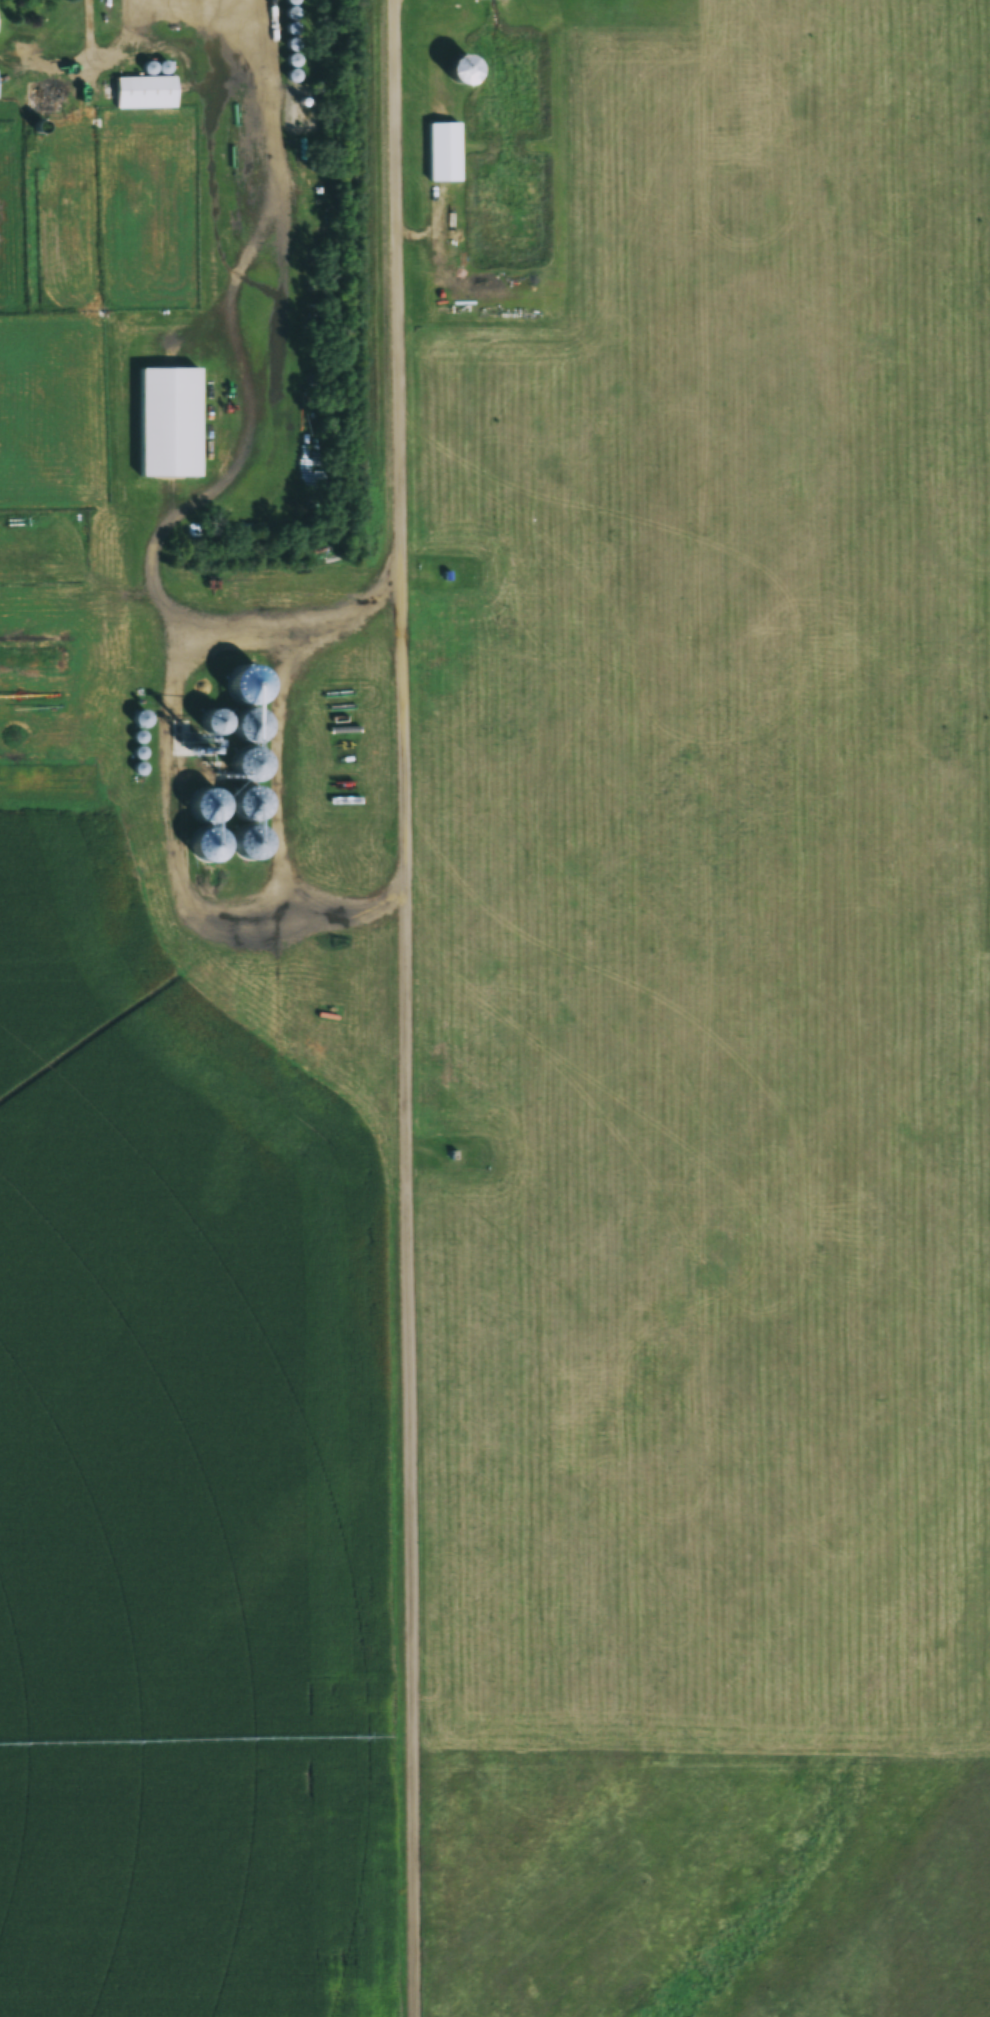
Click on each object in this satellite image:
building: (463, 67)
building: (145, 91)
building: (41, 96)
building: (443, 150)
building: (140, 718)
building: (212, 722)
building: (250, 725)
building: (198, 743)
building: (247, 765)
building: (205, 805)
building: (247, 805)
building: (246, 842)
building: (208, 844)
road: (415, 1008)

